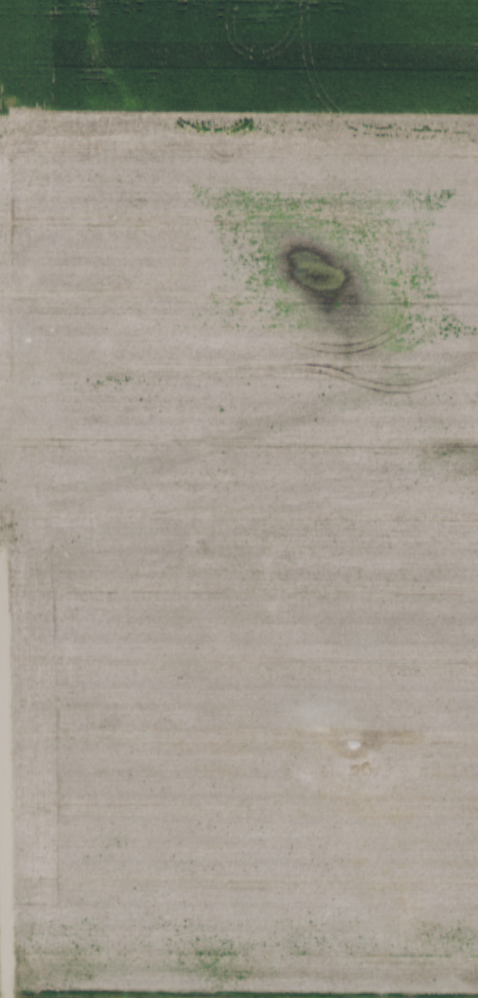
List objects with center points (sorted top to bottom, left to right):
road: (1, 857)

